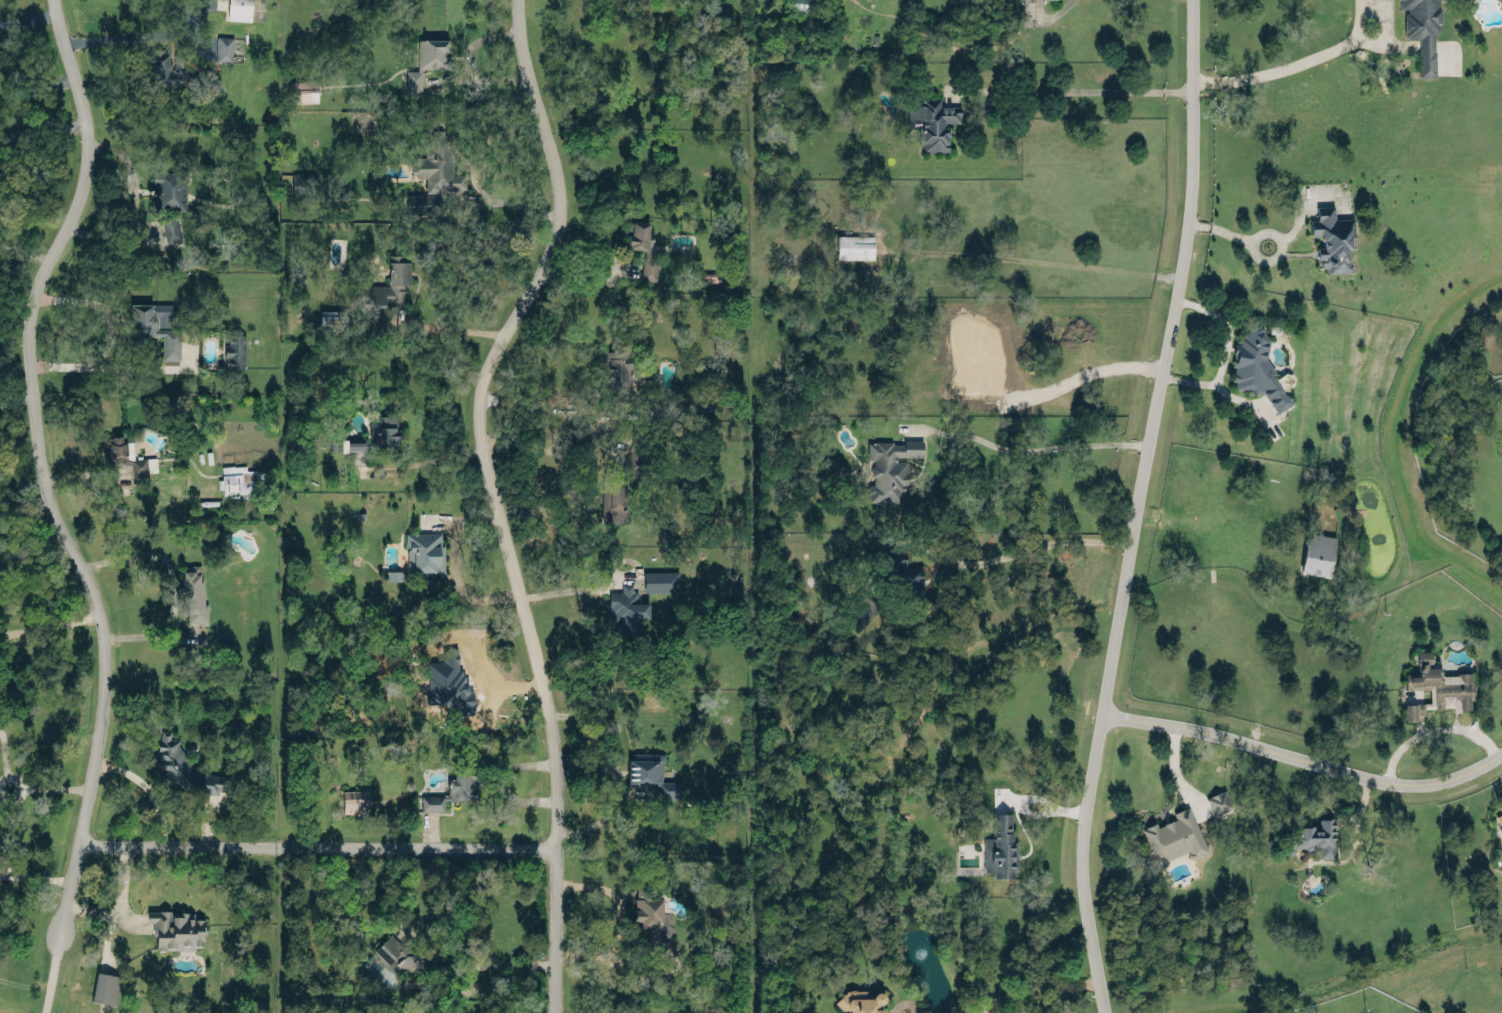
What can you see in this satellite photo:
building: (803, 0)
building: (1046, 0)
building: (239, 9)
road: (30, 15)
building: (1422, 29)
road: (140, 35)
building: (224, 48)
building: (427, 60)
road: (466, 63)
road: (1293, 63)
building: (162, 66)
road: (1080, 89)
building: (302, 90)
building: (932, 121)
road: (44, 126)
building: (435, 173)
road: (469, 177)
building: (303, 183)
road: (131, 185)
building: (168, 188)
building: (171, 229)
building: (1332, 239)
road: (1262, 244)
building: (642, 246)
building: (855, 246)
road: (26, 249)
road: (1056, 263)
road: (587, 266)
building: (387, 287)
building: (156, 325)
road: (429, 327)
road: (110, 331)
building: (235, 350)
road: (1225, 352)
road: (1170, 357)
building: (1256, 366)
building: (617, 374)
road: (532, 402)
building: (379, 434)
road: (539, 446)
road: (1042, 448)
road: (432, 457)
road: (46, 467)
building: (890, 467)
building: (247, 483)
road: (493, 498)
building: (613, 500)
road: (1028, 547)
building: (425, 551)
building: (1317, 553)
road: (454, 567)
building: (660, 580)
building: (908, 582)
road: (565, 589)
building: (193, 594)
building: (625, 610)
road: (52, 623)
building: (1438, 685)
road: (1434, 727)
road: (1306, 749)
road: (612, 765)
road: (1176, 769)
building: (651, 773)
building: (214, 782)
road: (51, 786)
building: (453, 789)
building: (354, 800)
building: (1219, 801)
building: (1499, 821)
building: (1175, 836)
building: (1312, 837)
road: (318, 842)
building: (1000, 847)
road: (1083, 862)
road: (36, 875)
road: (118, 899)
building: (648, 917)
road: (619, 921)
building: (176, 929)
building: (404, 953)
road: (474, 959)
road: (52, 973)
building: (105, 987)
road: (1039, 989)
building: (861, 1001)

